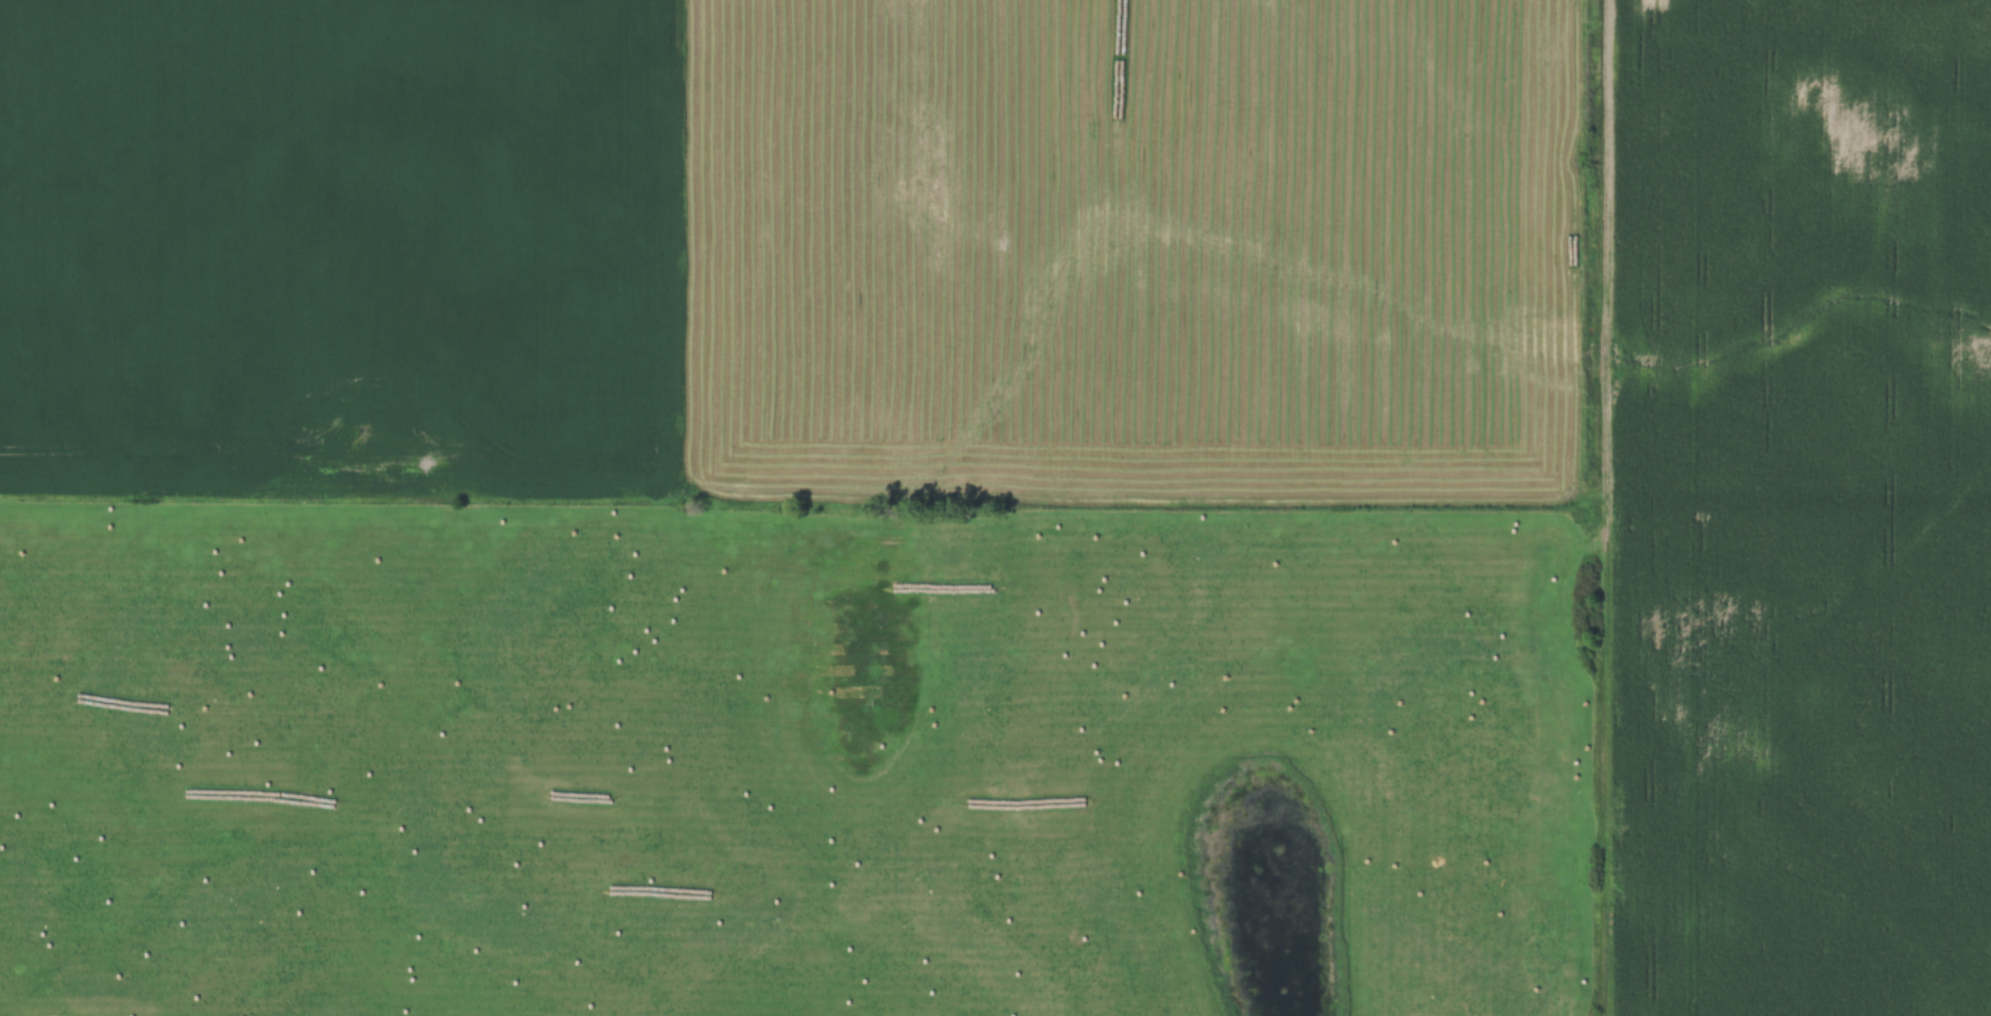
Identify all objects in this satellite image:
road: (1607, 508)

